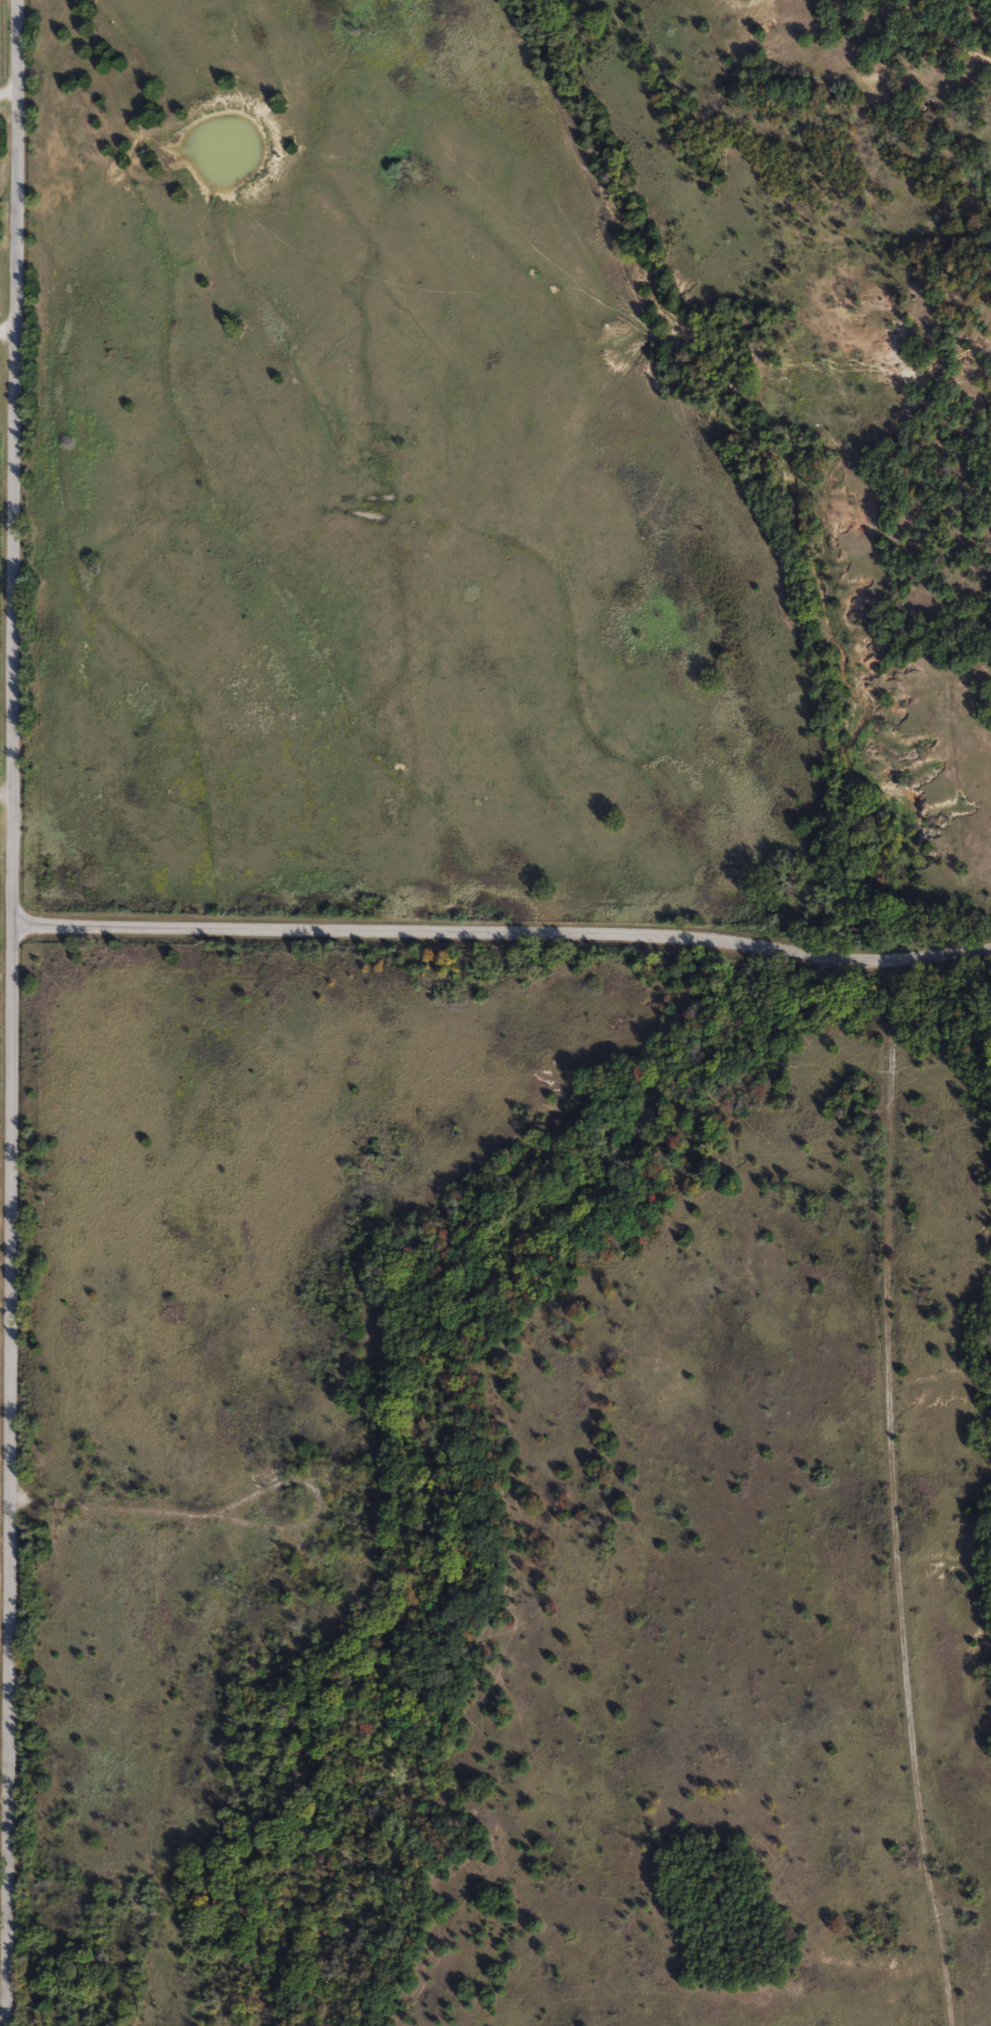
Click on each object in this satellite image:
road: (8, 89)
road: (502, 936)
road: (10, 1013)
road: (895, 1495)

